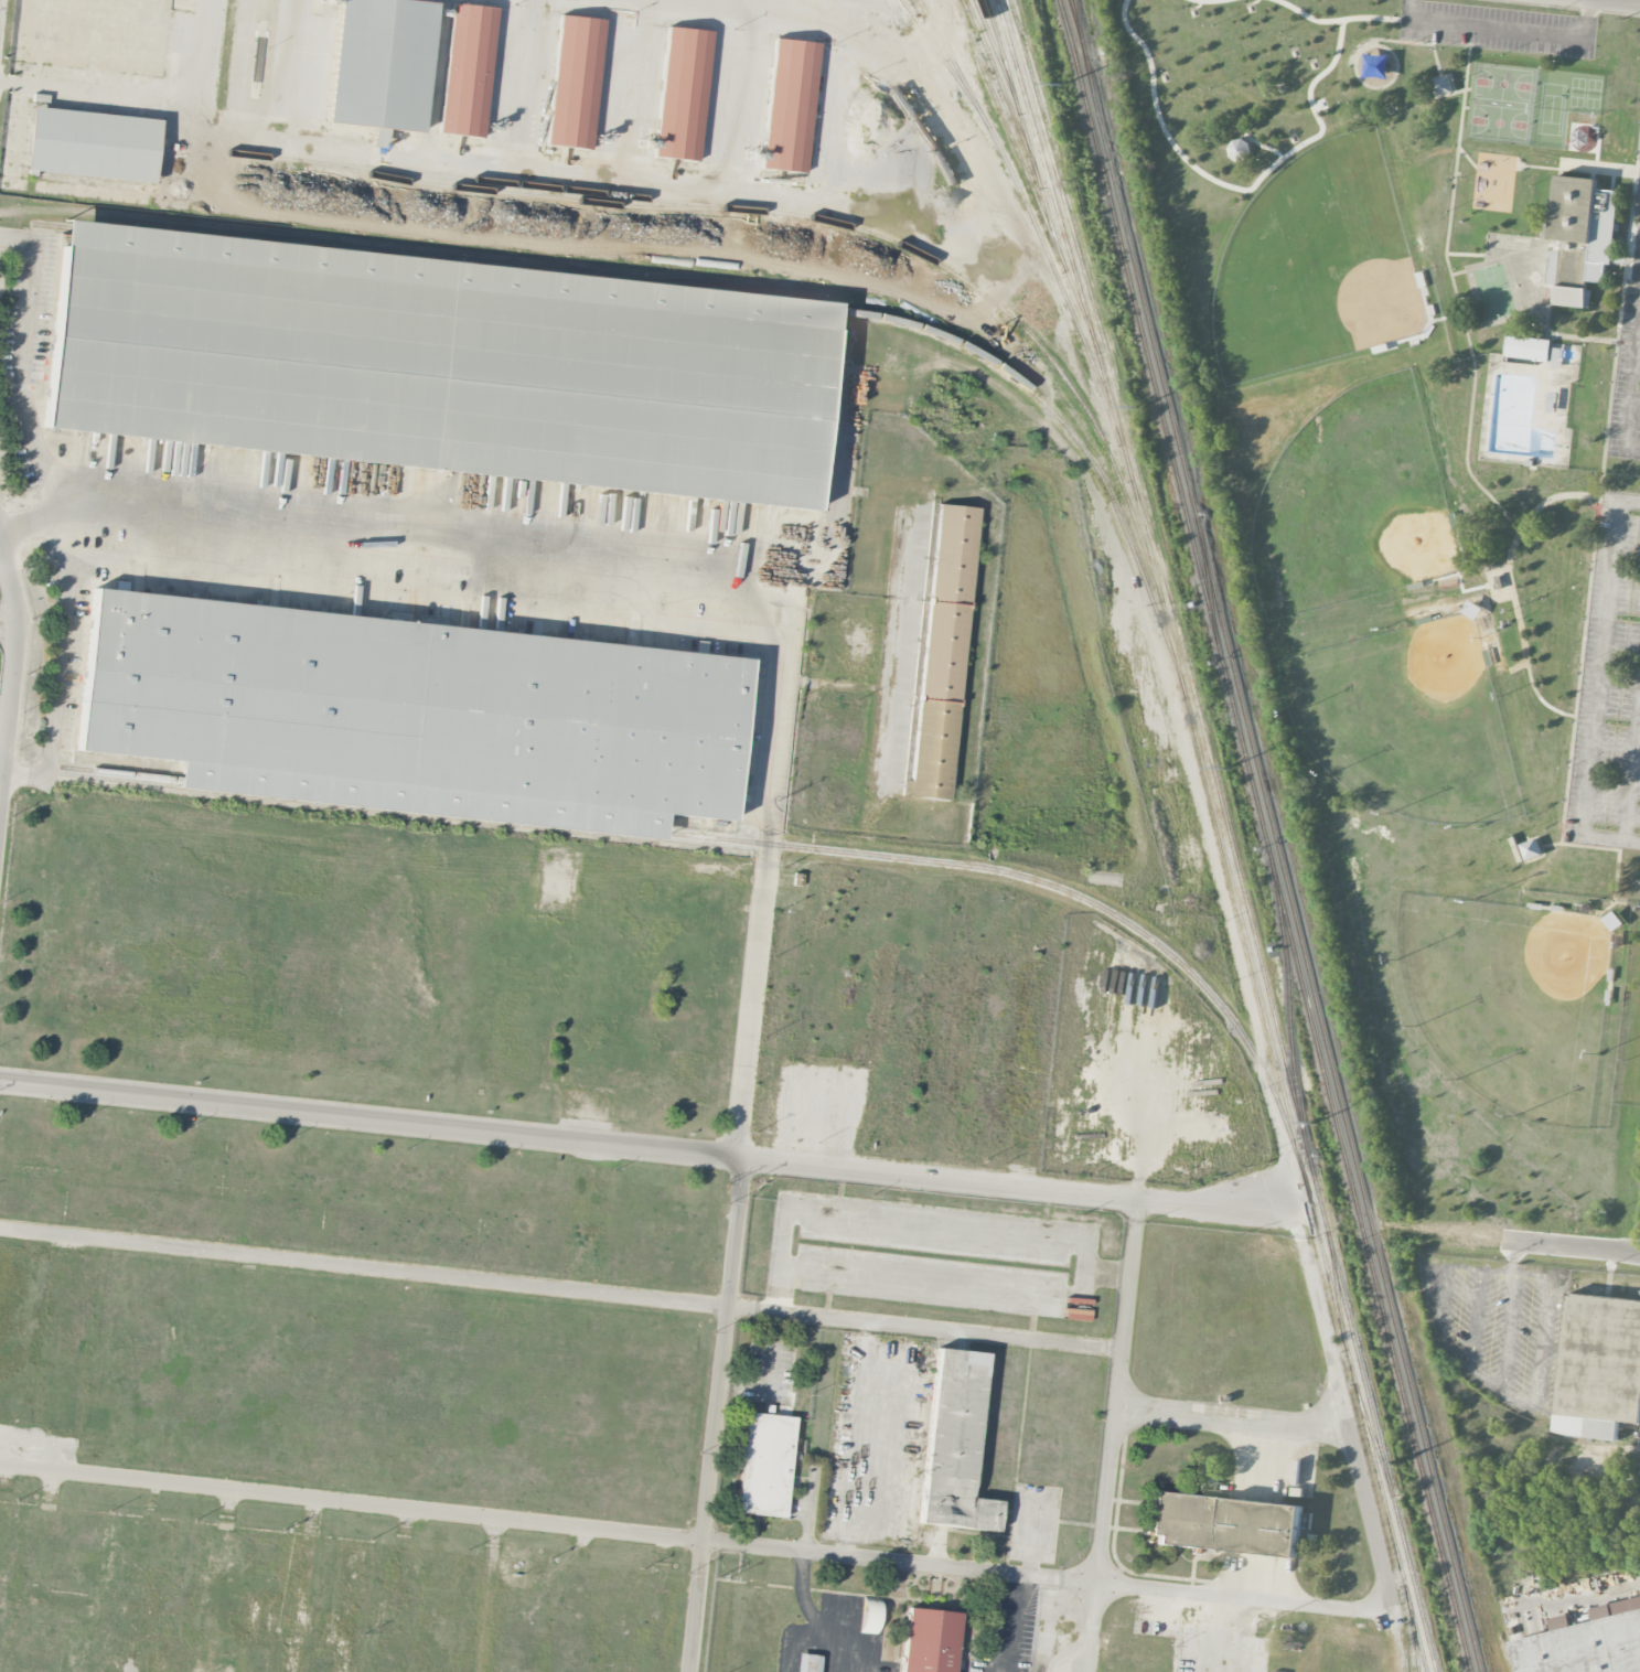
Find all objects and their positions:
road: (845, 1)
road: (1608, 2)
railway: (1078, 28)
railway: (1080, 28)
road: (1510, 29)
railway: (996, 53)
building: (378, 63)
railway: (944, 64)
building: (465, 68)
building: (574, 79)
power tower: (1063, 86)
building: (1441, 87)
road: (93, 89)
railway: (1003, 92)
building: (682, 93)
building: (790, 105)
railway: (1022, 126)
building: (377, 137)
building: (92, 143)
building: (1239, 149)
road: (492, 167)
railway: (1026, 173)
railway: (521, 193)
railway: (690, 202)
railway: (1028, 210)
railway: (1066, 213)
building: (1586, 219)
railway: (712, 297)
building: (1572, 297)
building: (1528, 349)
road: (18, 368)
building: (437, 376)
road: (1632, 400)
power tower: (1137, 409)
road: (842, 471)
road: (1558, 501)
park: (1373, 516)
road: (410, 526)
park: (1437, 536)
road: (8, 580)
road: (8, 617)
building: (942, 651)
road: (58, 665)
park: (1419, 695)
road: (1599, 695)
road: (8, 703)
building: (412, 703)
power tower: (1226, 773)
railway: (1212, 803)
railway: (1266, 835)
railway: (755, 842)
railway: (1283, 864)
road: (770, 865)
road: (1236, 941)
park: (1488, 1022)
railway: (1282, 1048)
power tower: (1316, 1125)
road: (651, 1150)
road: (738, 1233)
road: (1510, 1235)
road: (365, 1266)
railway: (1338, 1289)
road: (928, 1328)
building: (1599, 1365)
road: (1235, 1422)
building: (954, 1443)
railway: (1375, 1444)
road: (1114, 1449)
road: (1360, 1458)
building: (765, 1464)
power tower: (1397, 1464)
road: (709, 1489)
building: (1225, 1523)
road: (699, 1539)
road: (489, 1595)
building: (869, 1614)
road: (819, 1620)
road: (1004, 1622)
road: (798, 1636)
building: (929, 1639)
railway: (1415, 1641)
railway: (1419, 1641)
building: (1583, 1648)
building: (805, 1662)

